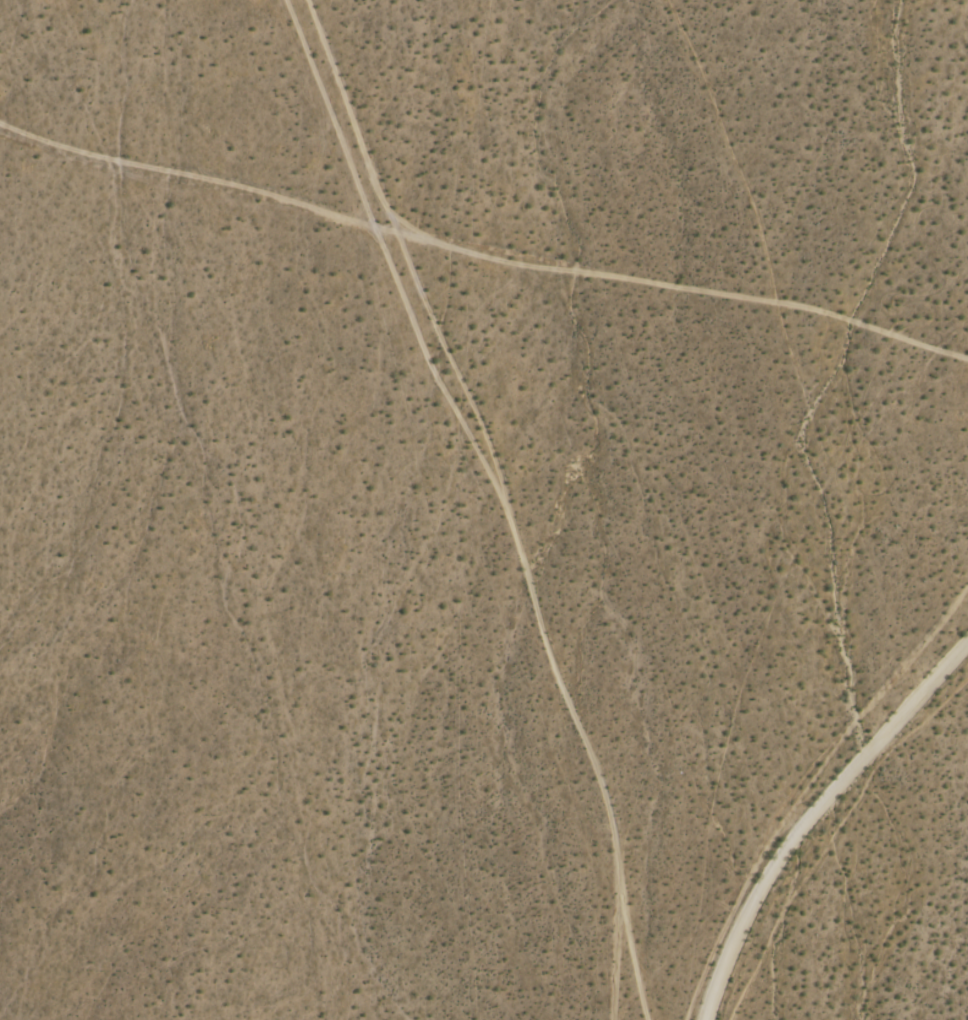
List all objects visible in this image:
road: (813, 809)

